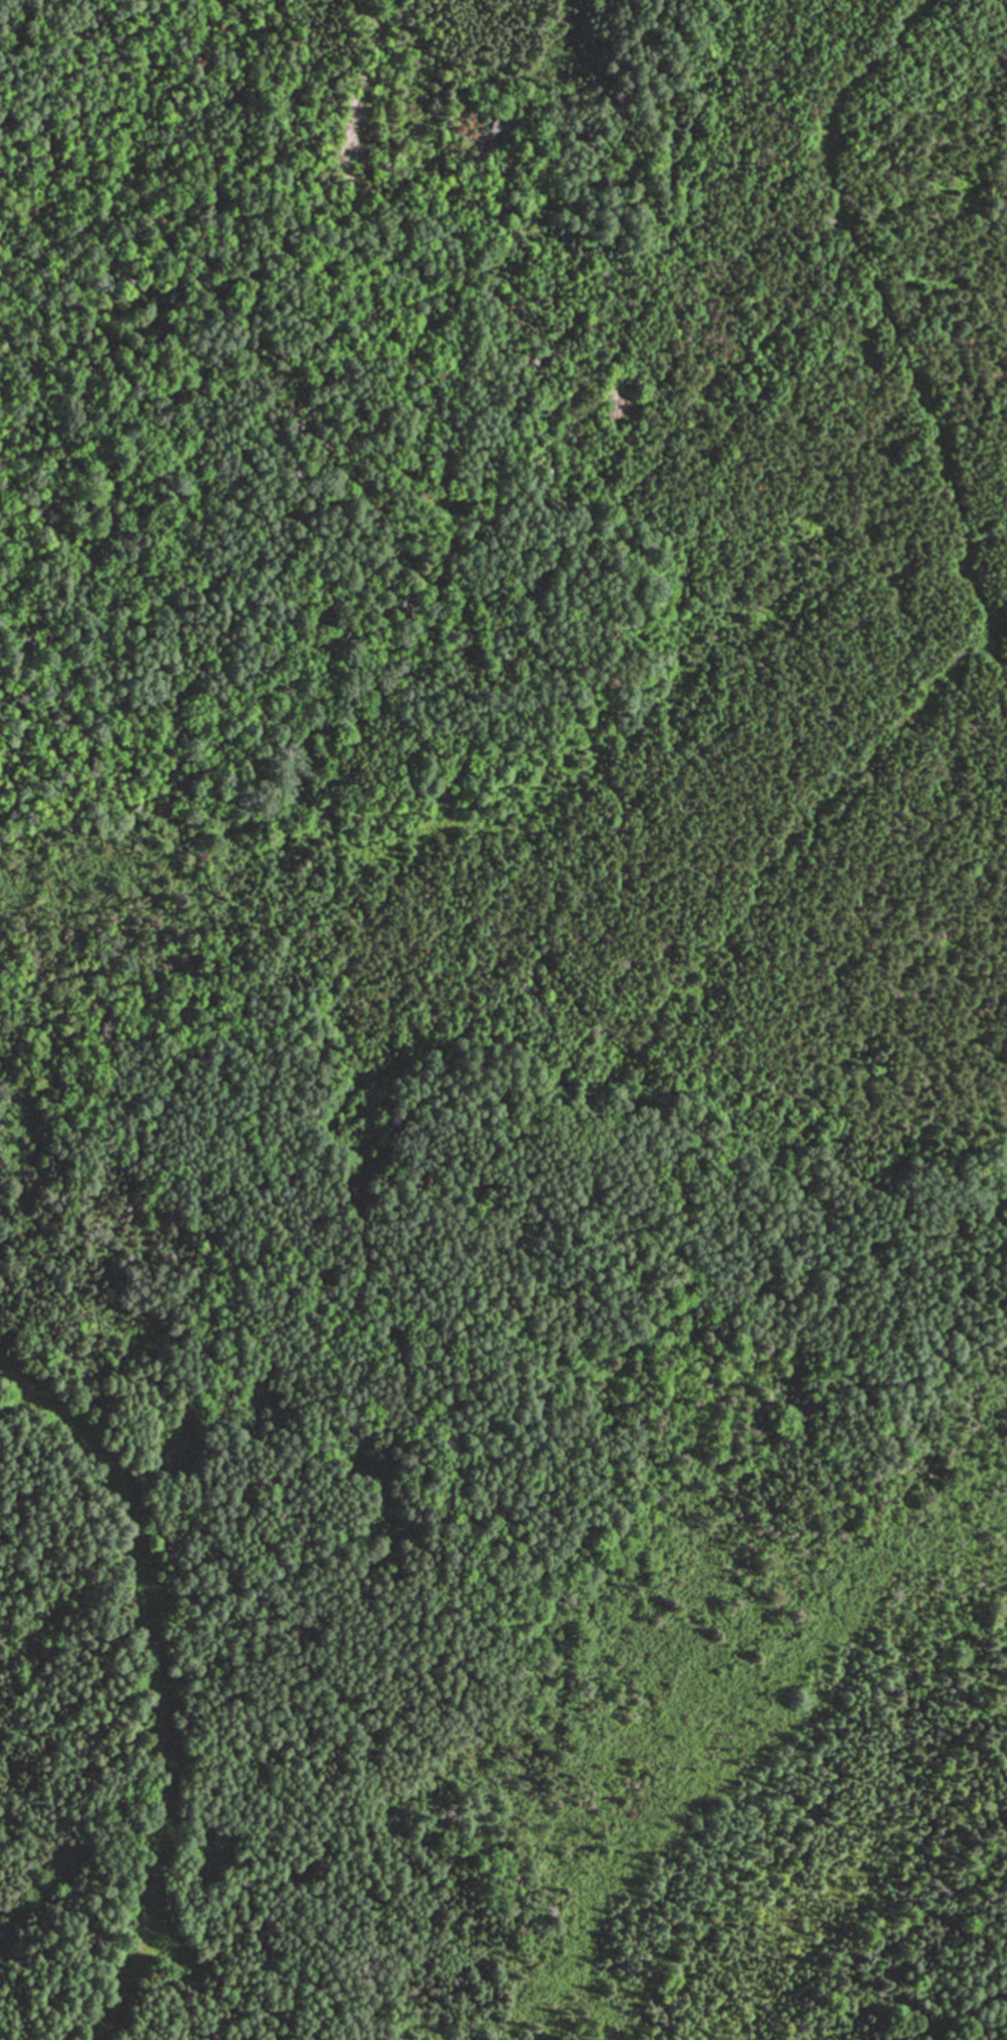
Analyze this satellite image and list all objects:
road: (155, 1683)
road: (272, 1986)
road: (853, 1992)

